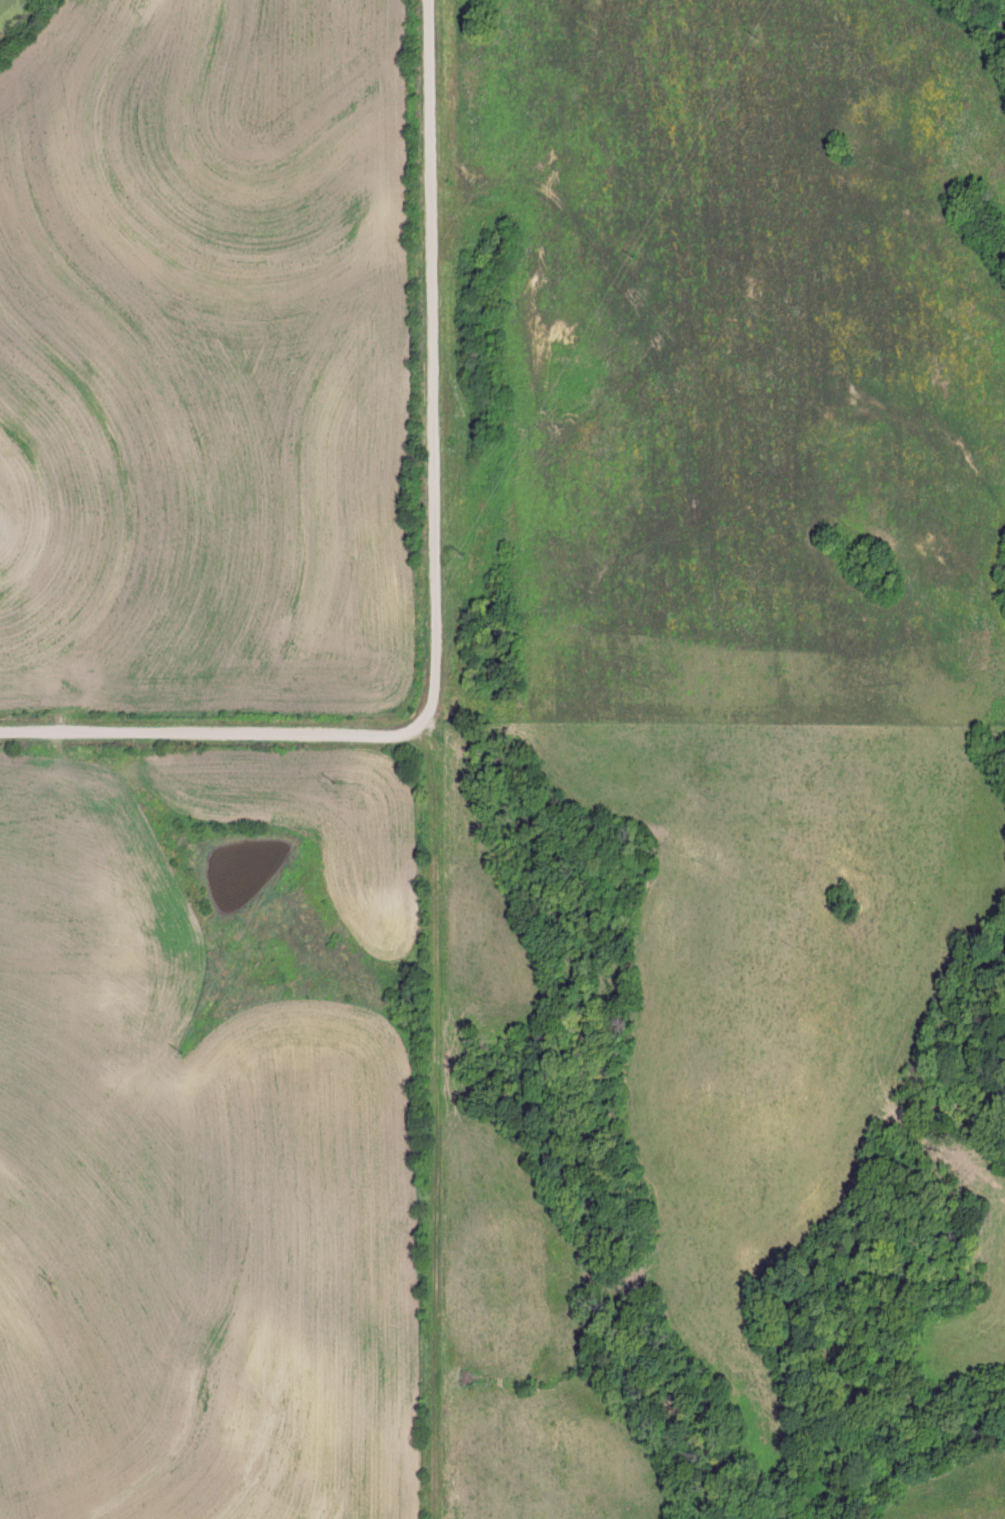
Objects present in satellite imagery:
road: (213, 733)
road: (428, 759)

